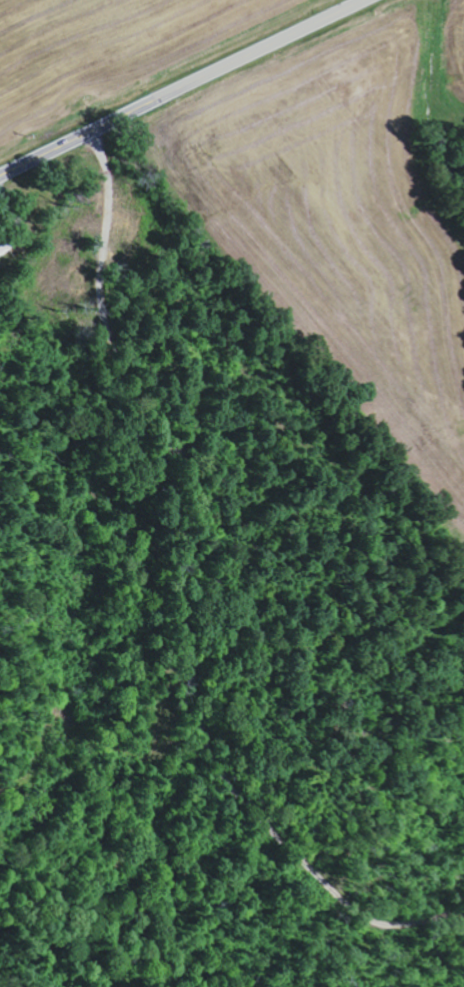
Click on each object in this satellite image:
road: (185, 86)

